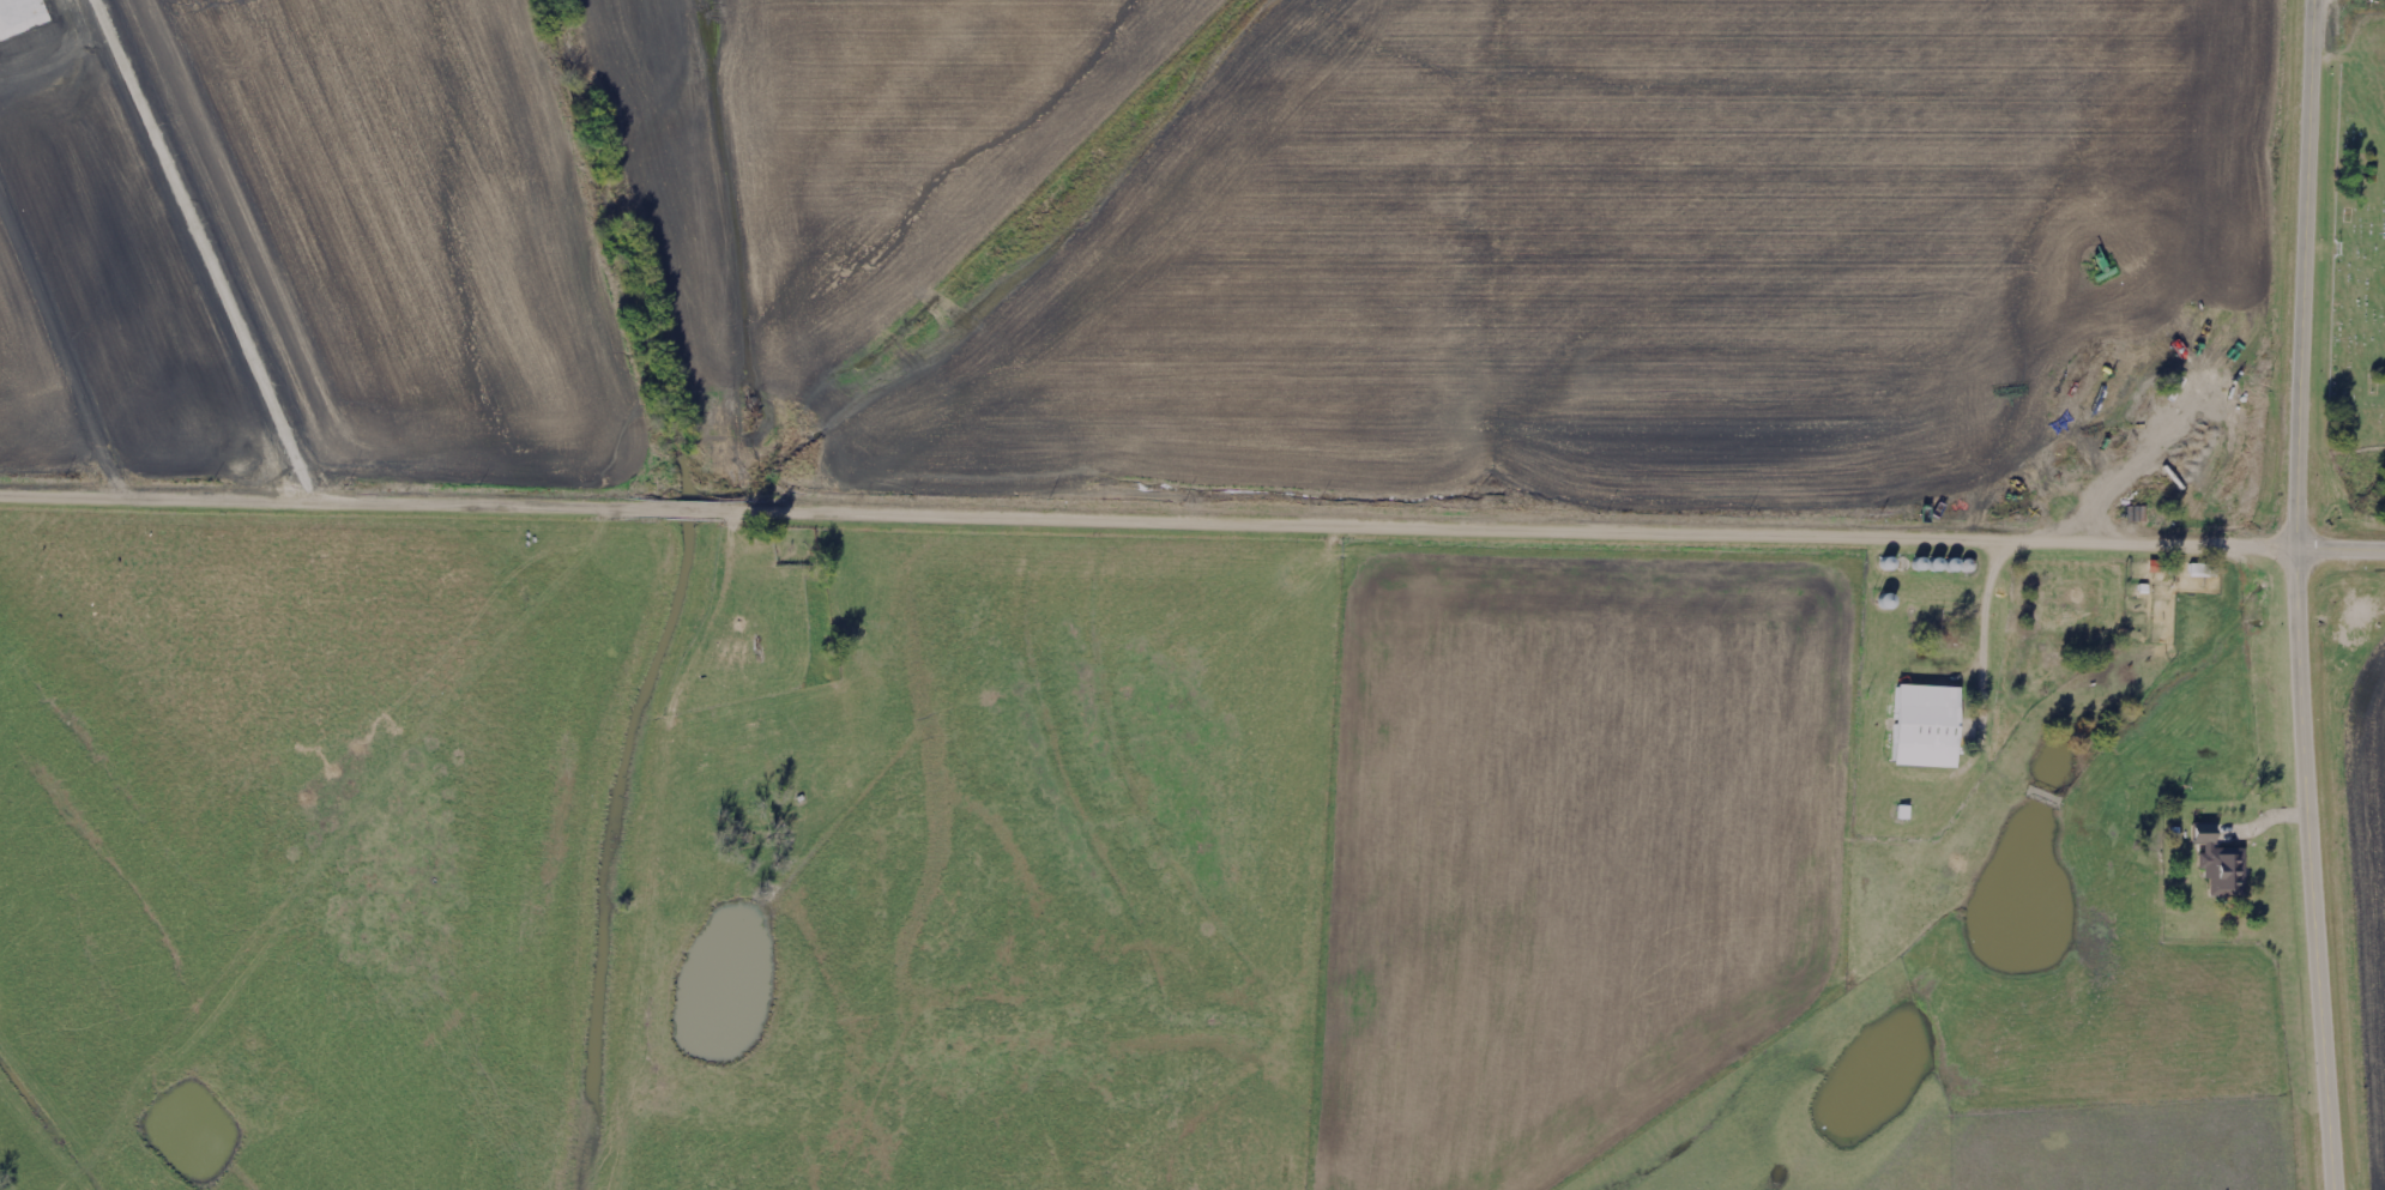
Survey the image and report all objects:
park: (2354, 231)
road: (2306, 274)
road: (1148, 515)
road: (2341, 550)
building: (1930, 727)
building: (2220, 863)
road: (2311, 870)

